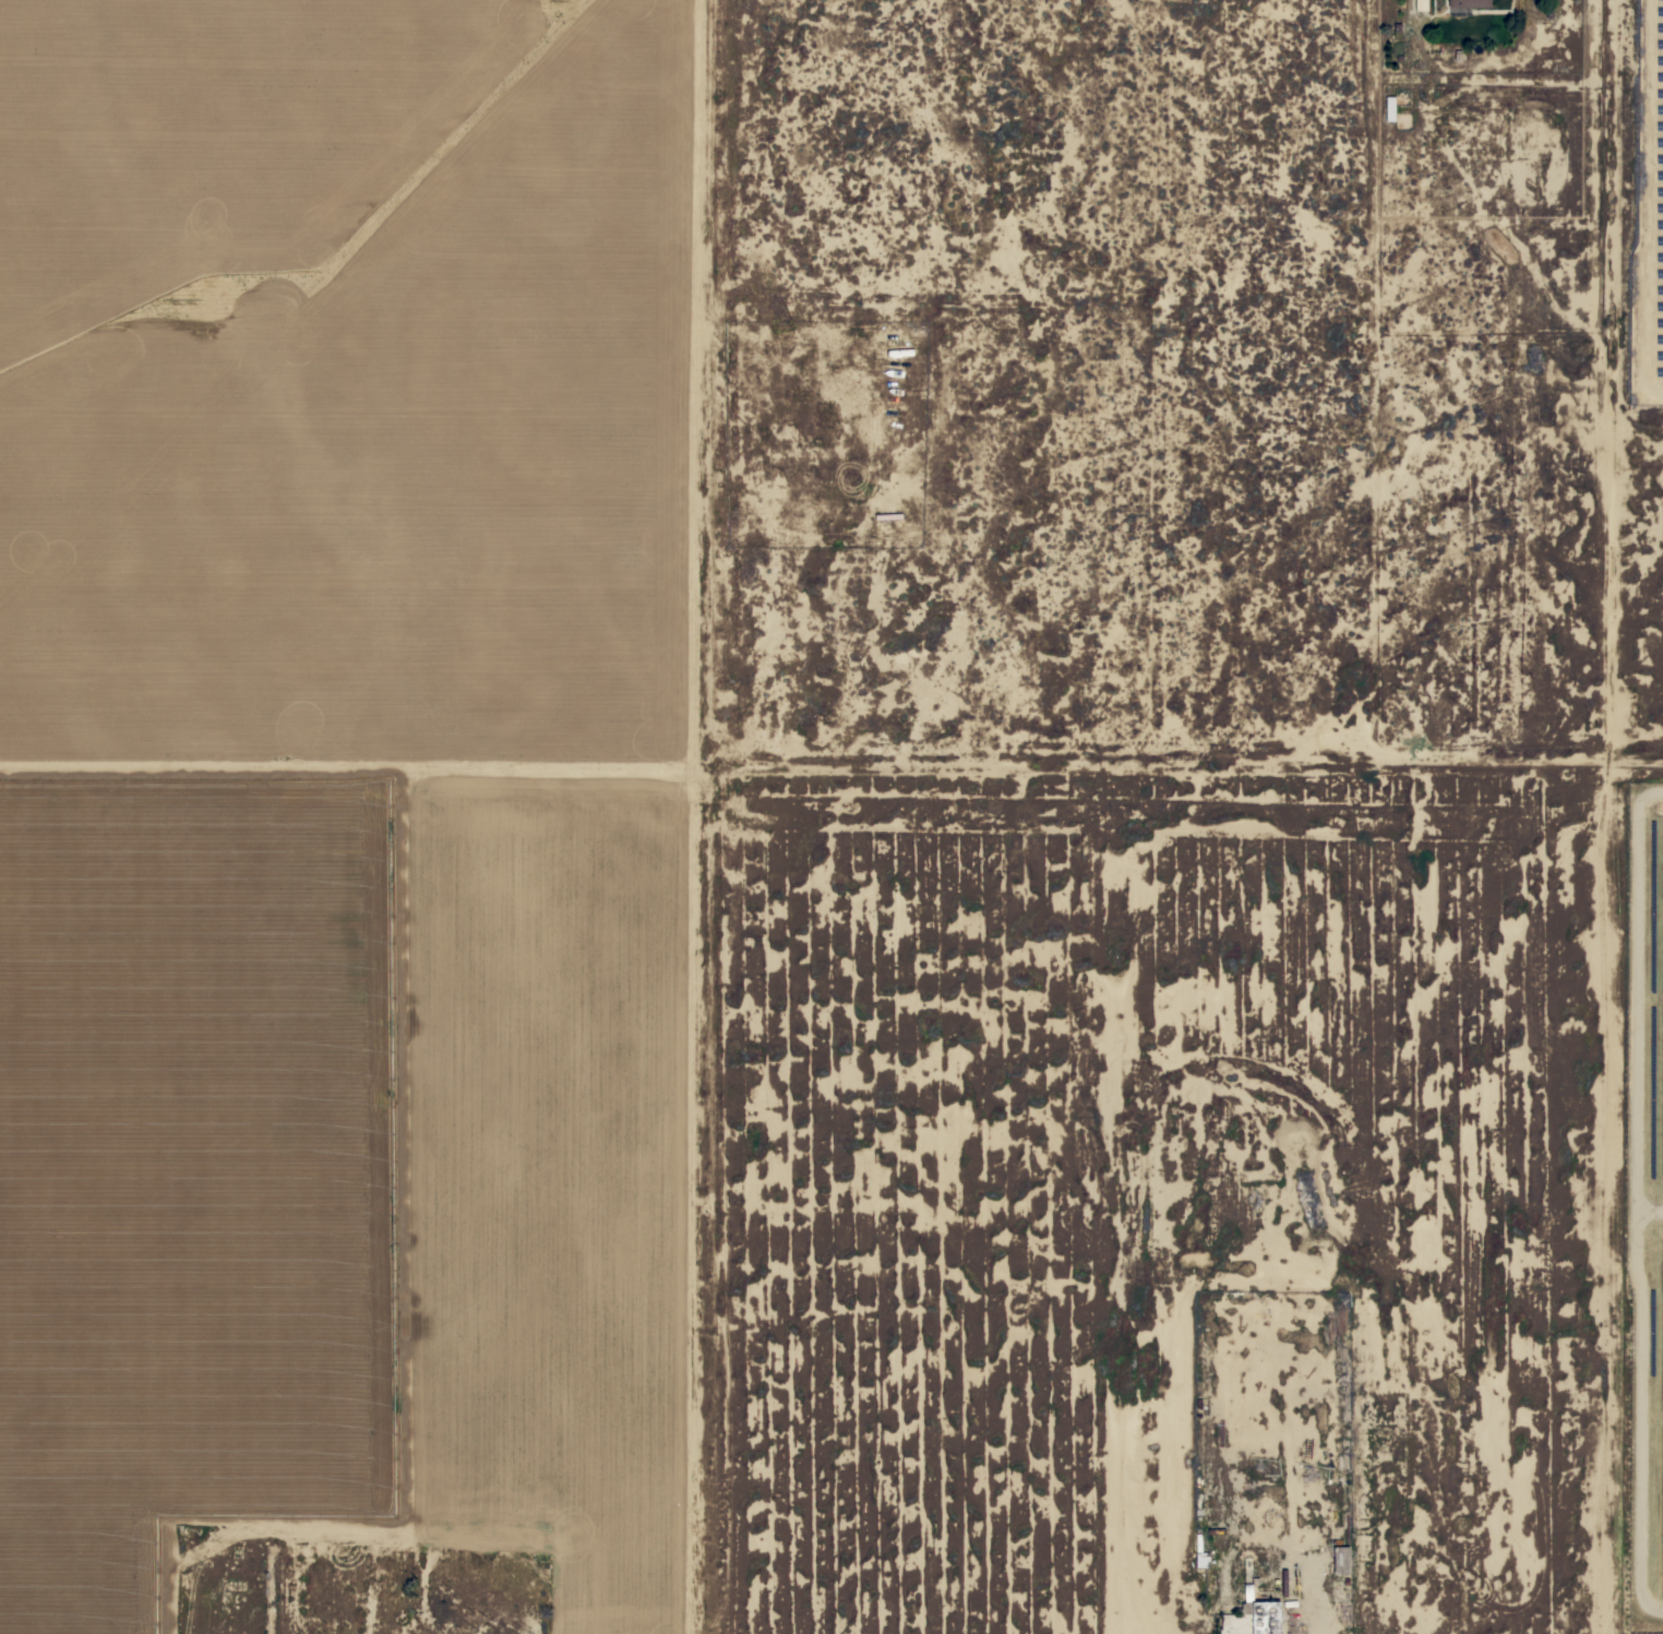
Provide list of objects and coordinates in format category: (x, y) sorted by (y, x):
building: (1469, 3)
building: (1421, 4)
solar farm: (1649, 196)
road: (1612, 378)
road: (699, 387)
road: (1158, 762)
road: (351, 772)
solar farm: (1640, 1203)
road: (703, 1205)
building: (1200, 1555)
building: (1341, 1560)
building: (1283, 1582)
building: (1252, 1614)

